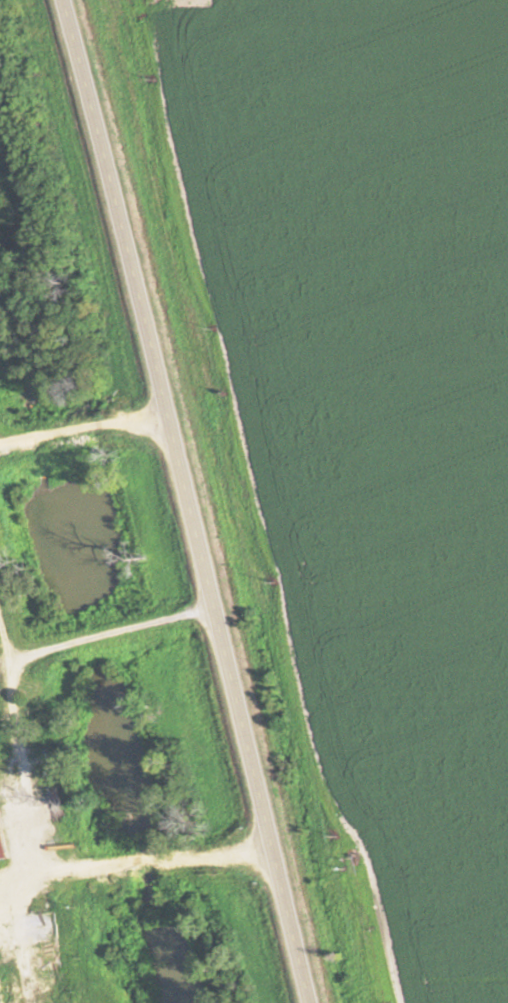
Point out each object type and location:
road: (190, 500)
river: (40, 504)
river: (86, 642)
river: (114, 755)
road: (28, 782)
building: (2, 849)
river: (142, 873)
river: (162, 950)
building: (71, 1002)

